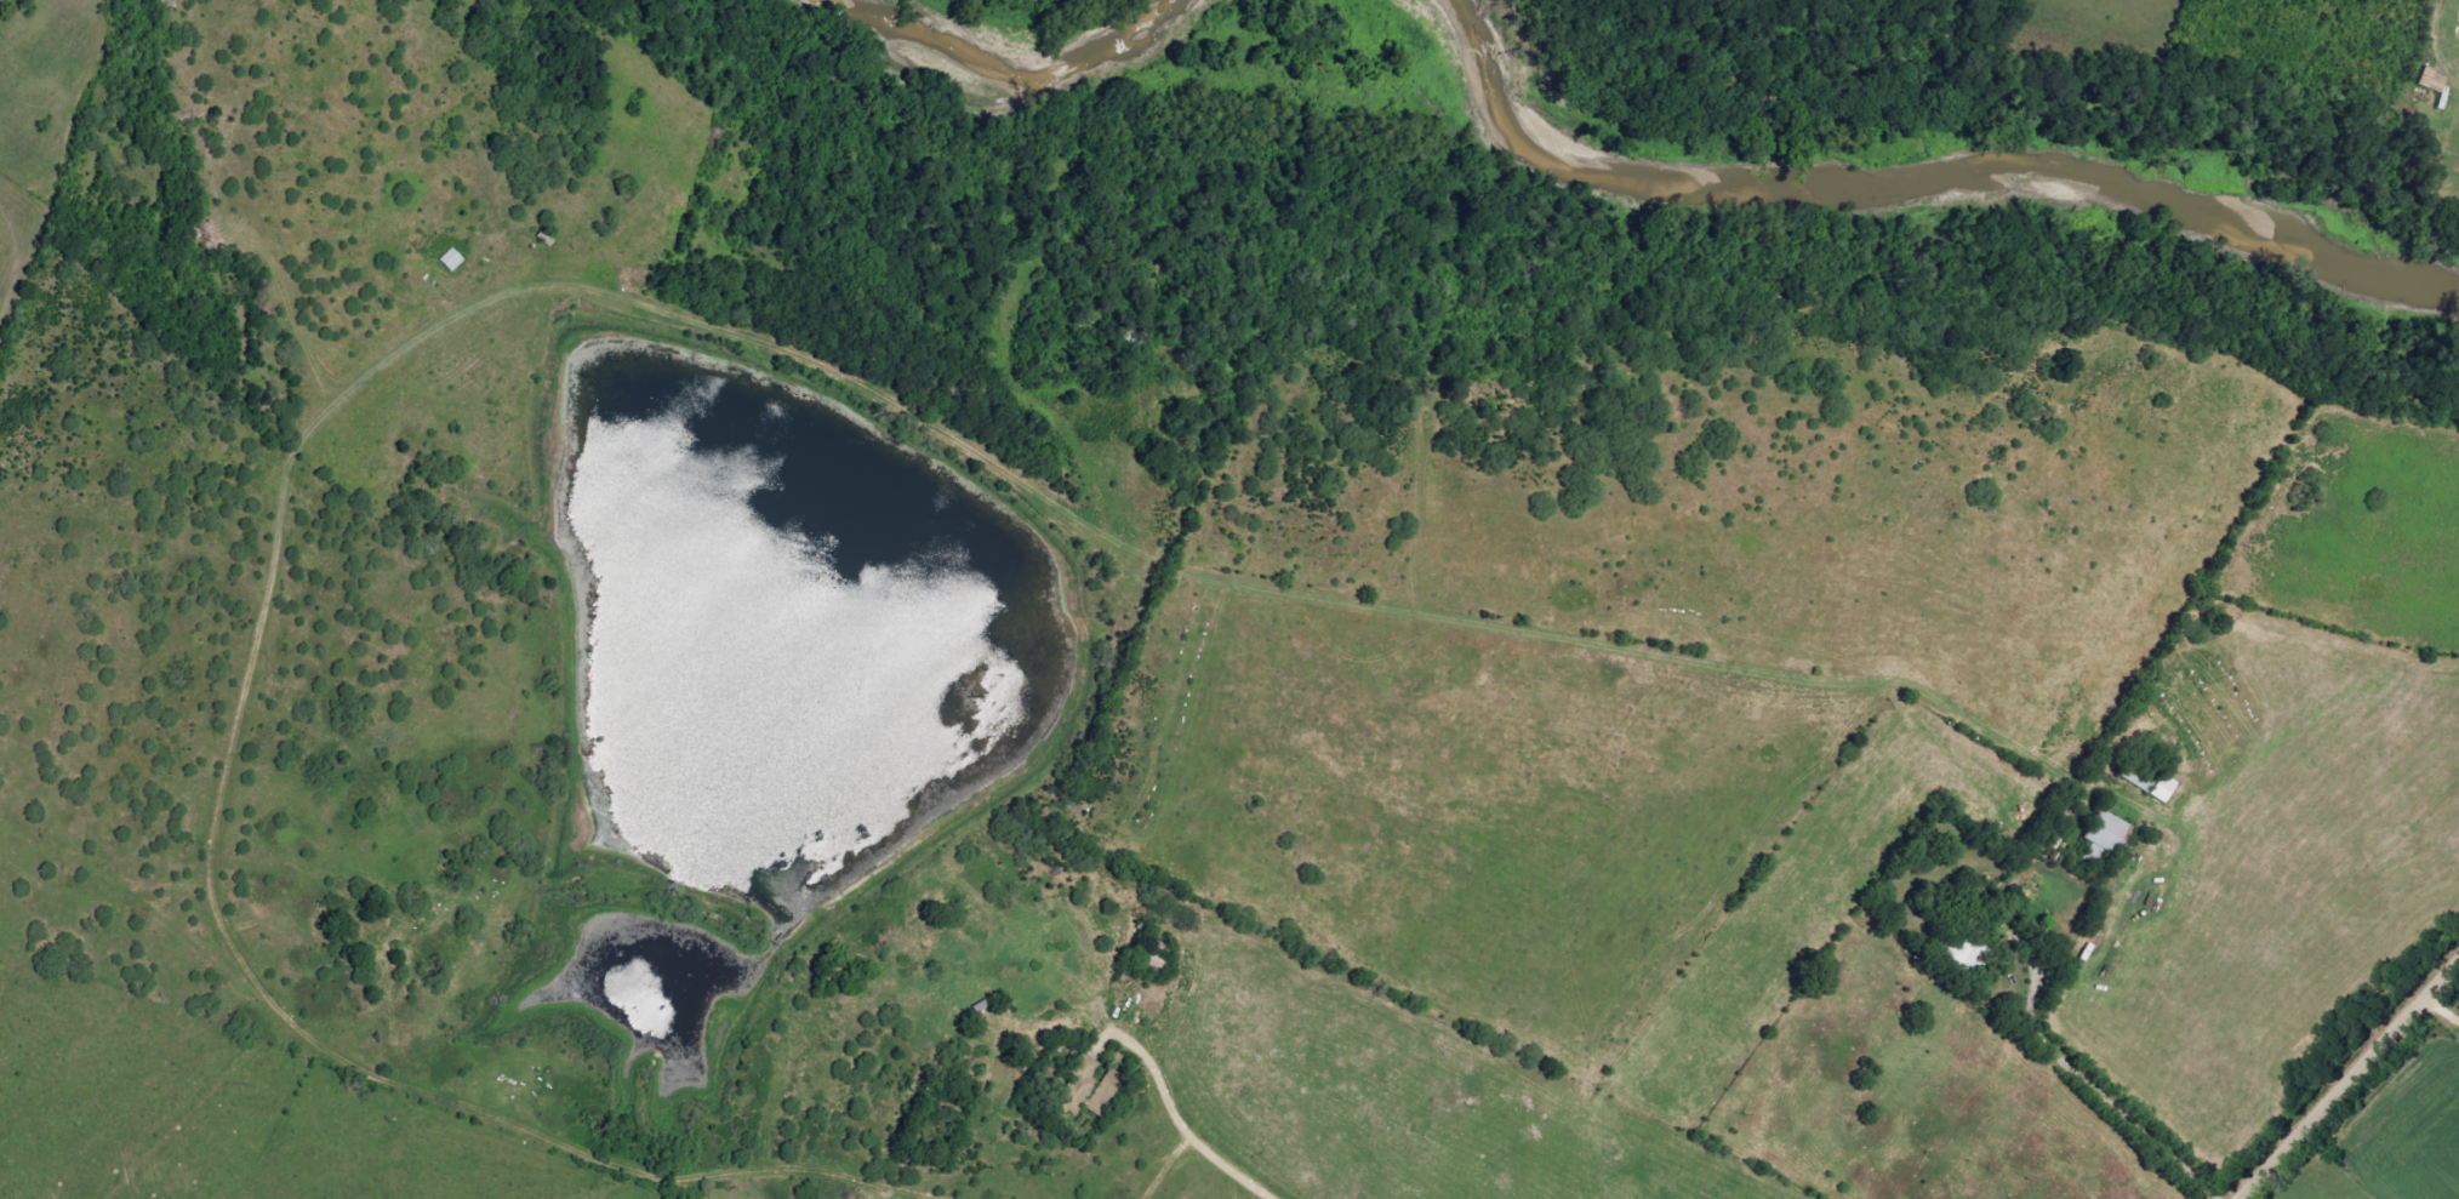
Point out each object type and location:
building: (2431, 79)
building: (2160, 788)
road: (2069, 1073)
road: (2347, 1079)
building: (1083, 1089)
building: (1101, 1095)
road: (1181, 1126)

